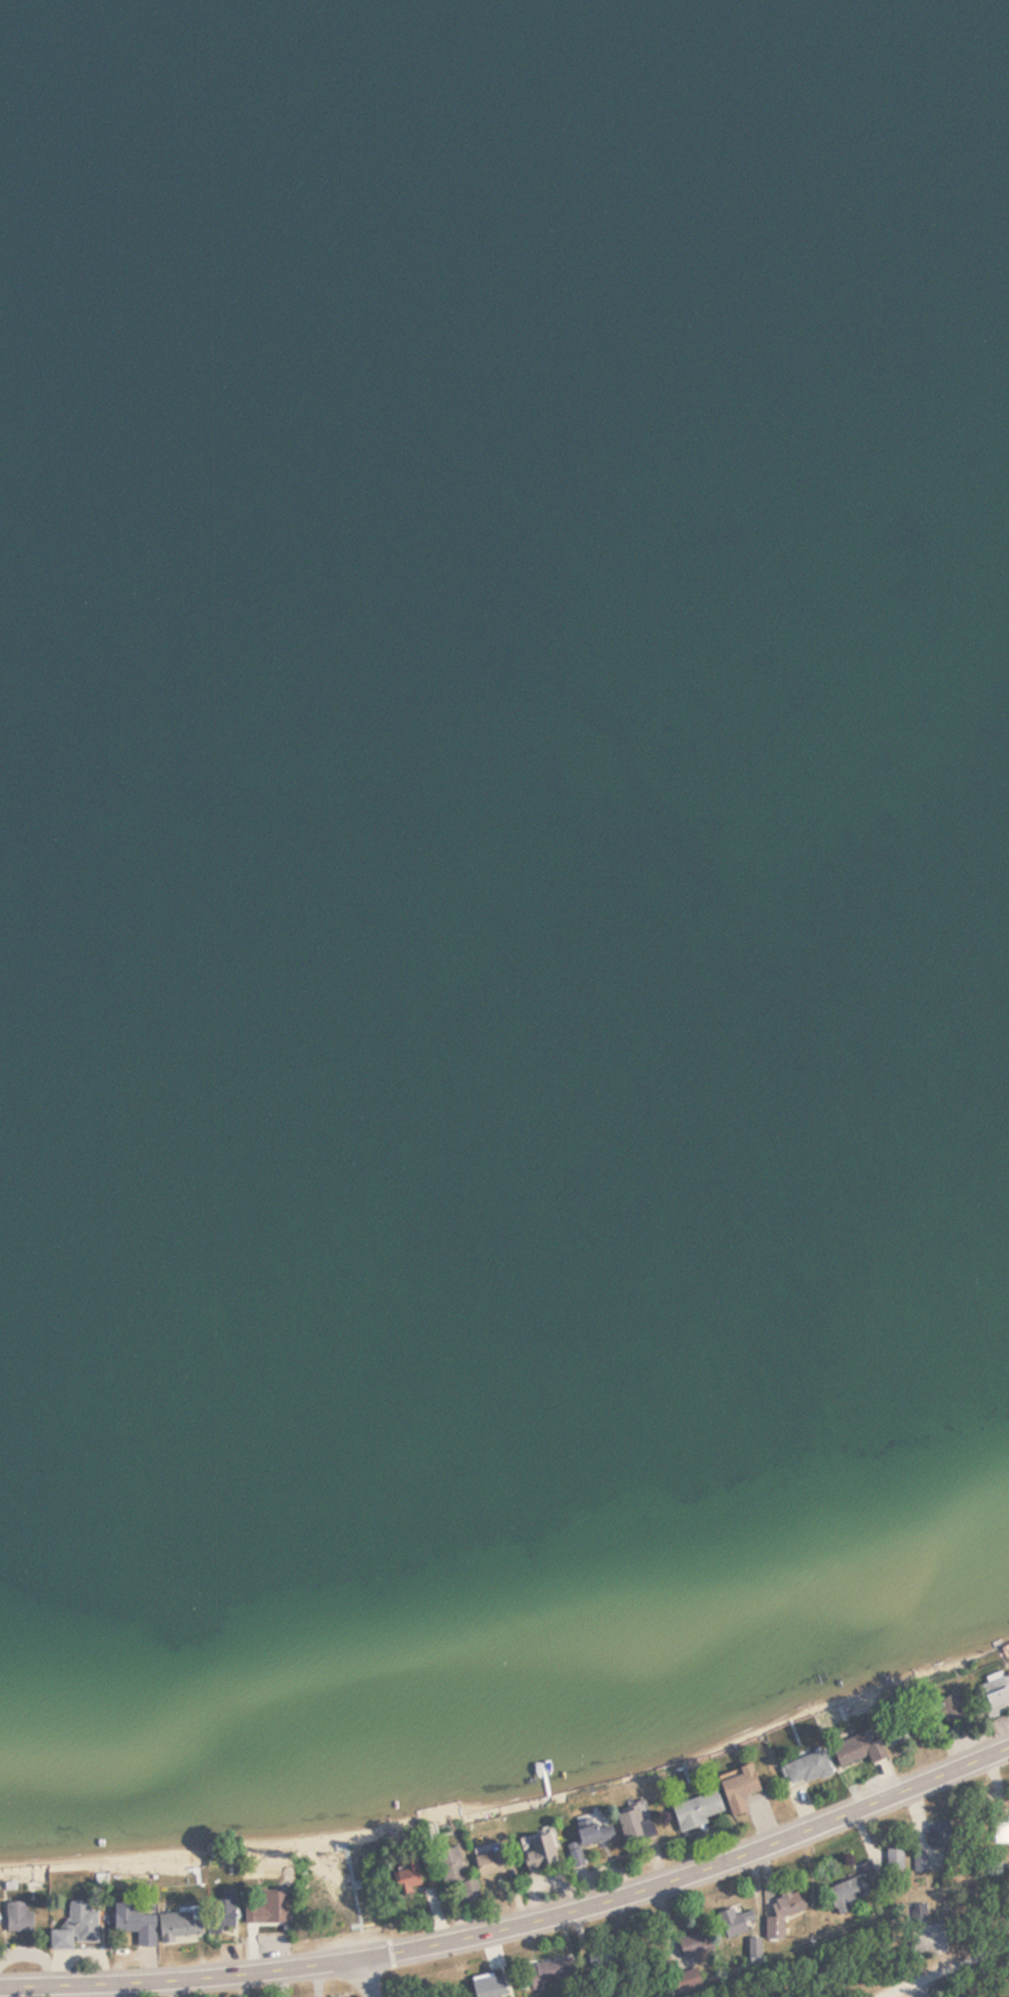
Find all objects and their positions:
building: (996, 1695)
building: (951, 1709)
building: (901, 1731)
building: (857, 1748)
building: (806, 1768)
building: (737, 1788)
building: (694, 1811)
building: (633, 1826)
building: (1001, 1833)
building: (593, 1834)
building: (938, 1835)
building: (538, 1852)
building: (487, 1861)
building: (453, 1872)
building: (406, 1877)
building: (845, 1894)
building: (275, 1907)
building: (220, 1910)
building: (780, 1913)
building: (15, 1917)
building: (734, 1922)
building: (132, 1924)
building: (73, 1927)
building: (177, 1927)
road: (518, 1927)
building: (693, 1944)
road: (943, 1970)
building: (544, 1974)
road: (364, 1978)
building: (486, 1986)

